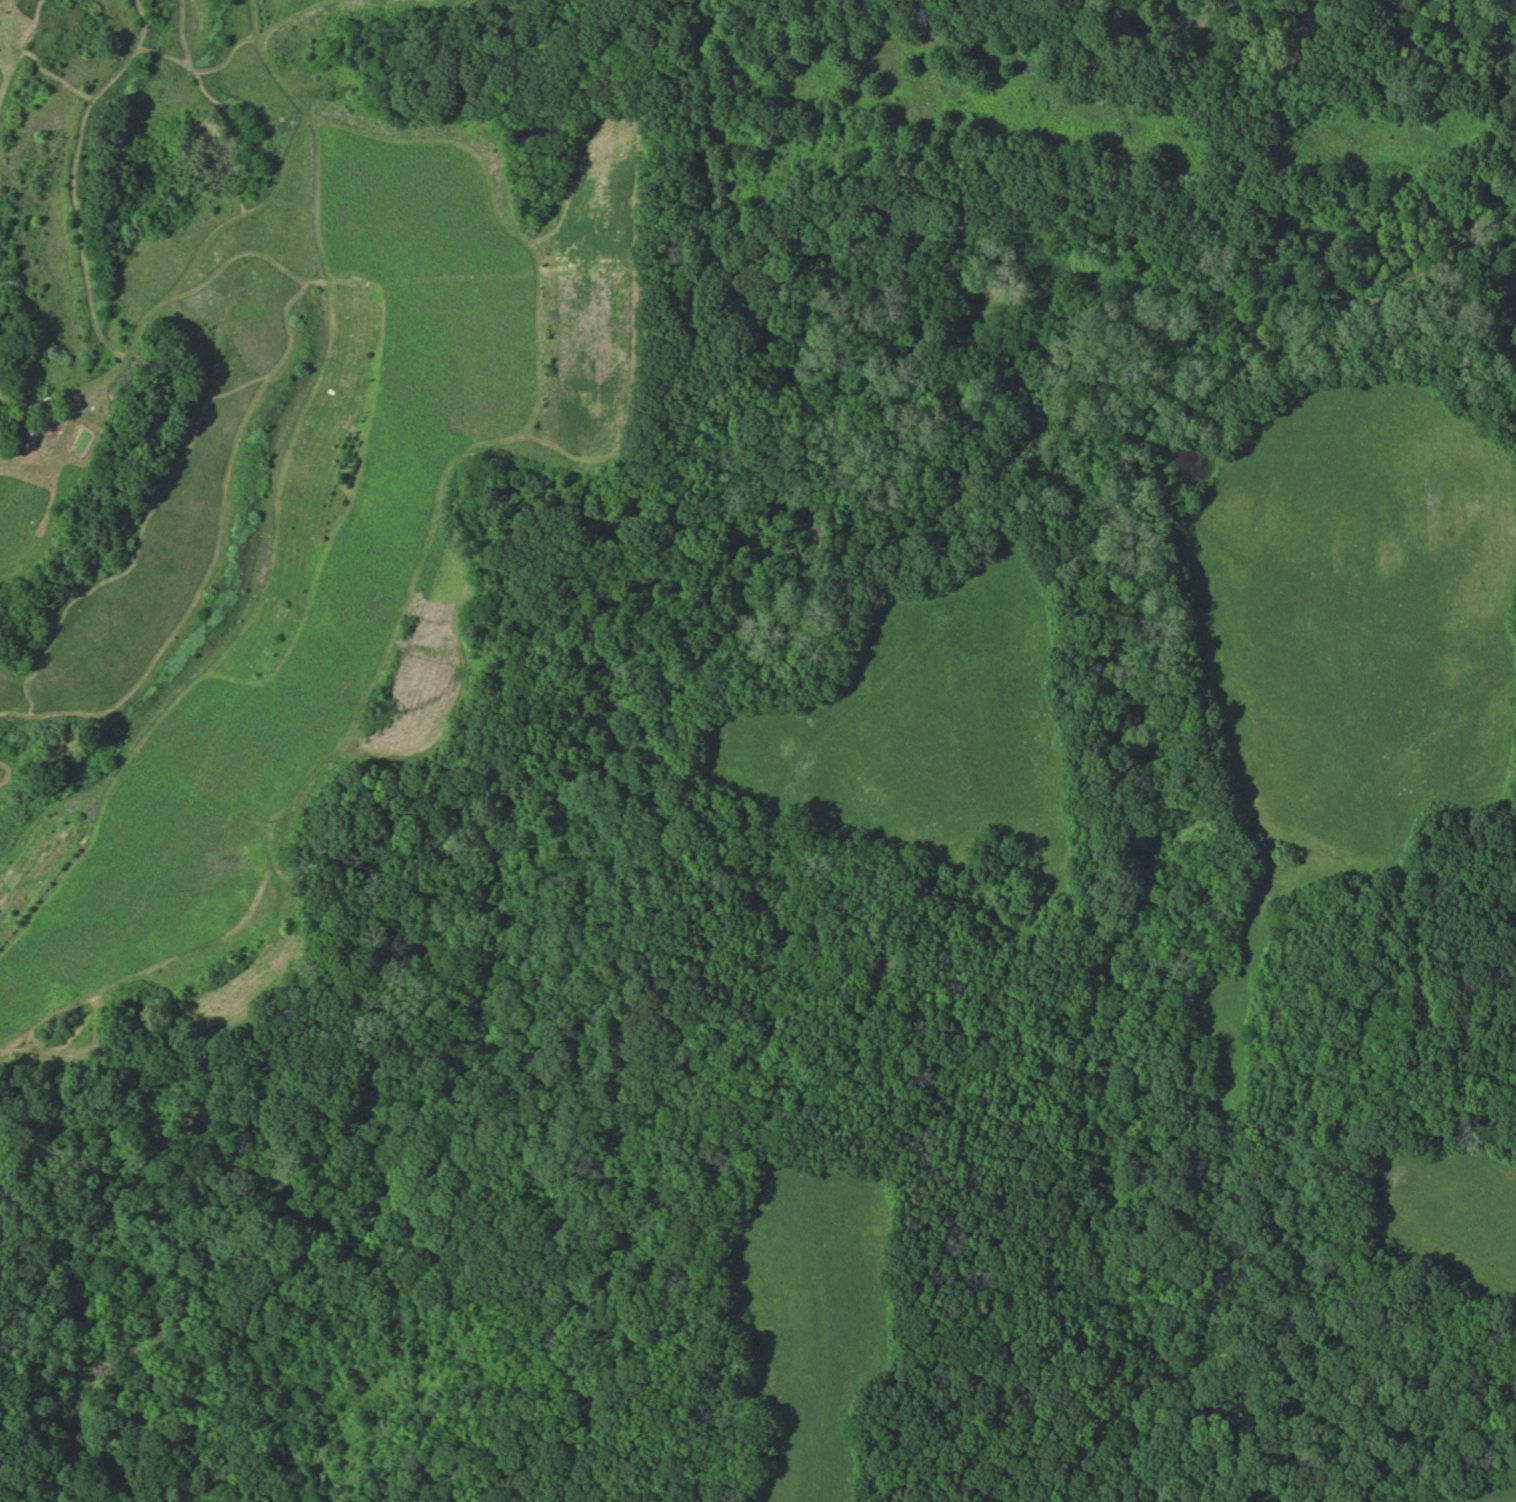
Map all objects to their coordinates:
road: (827, 1331)

